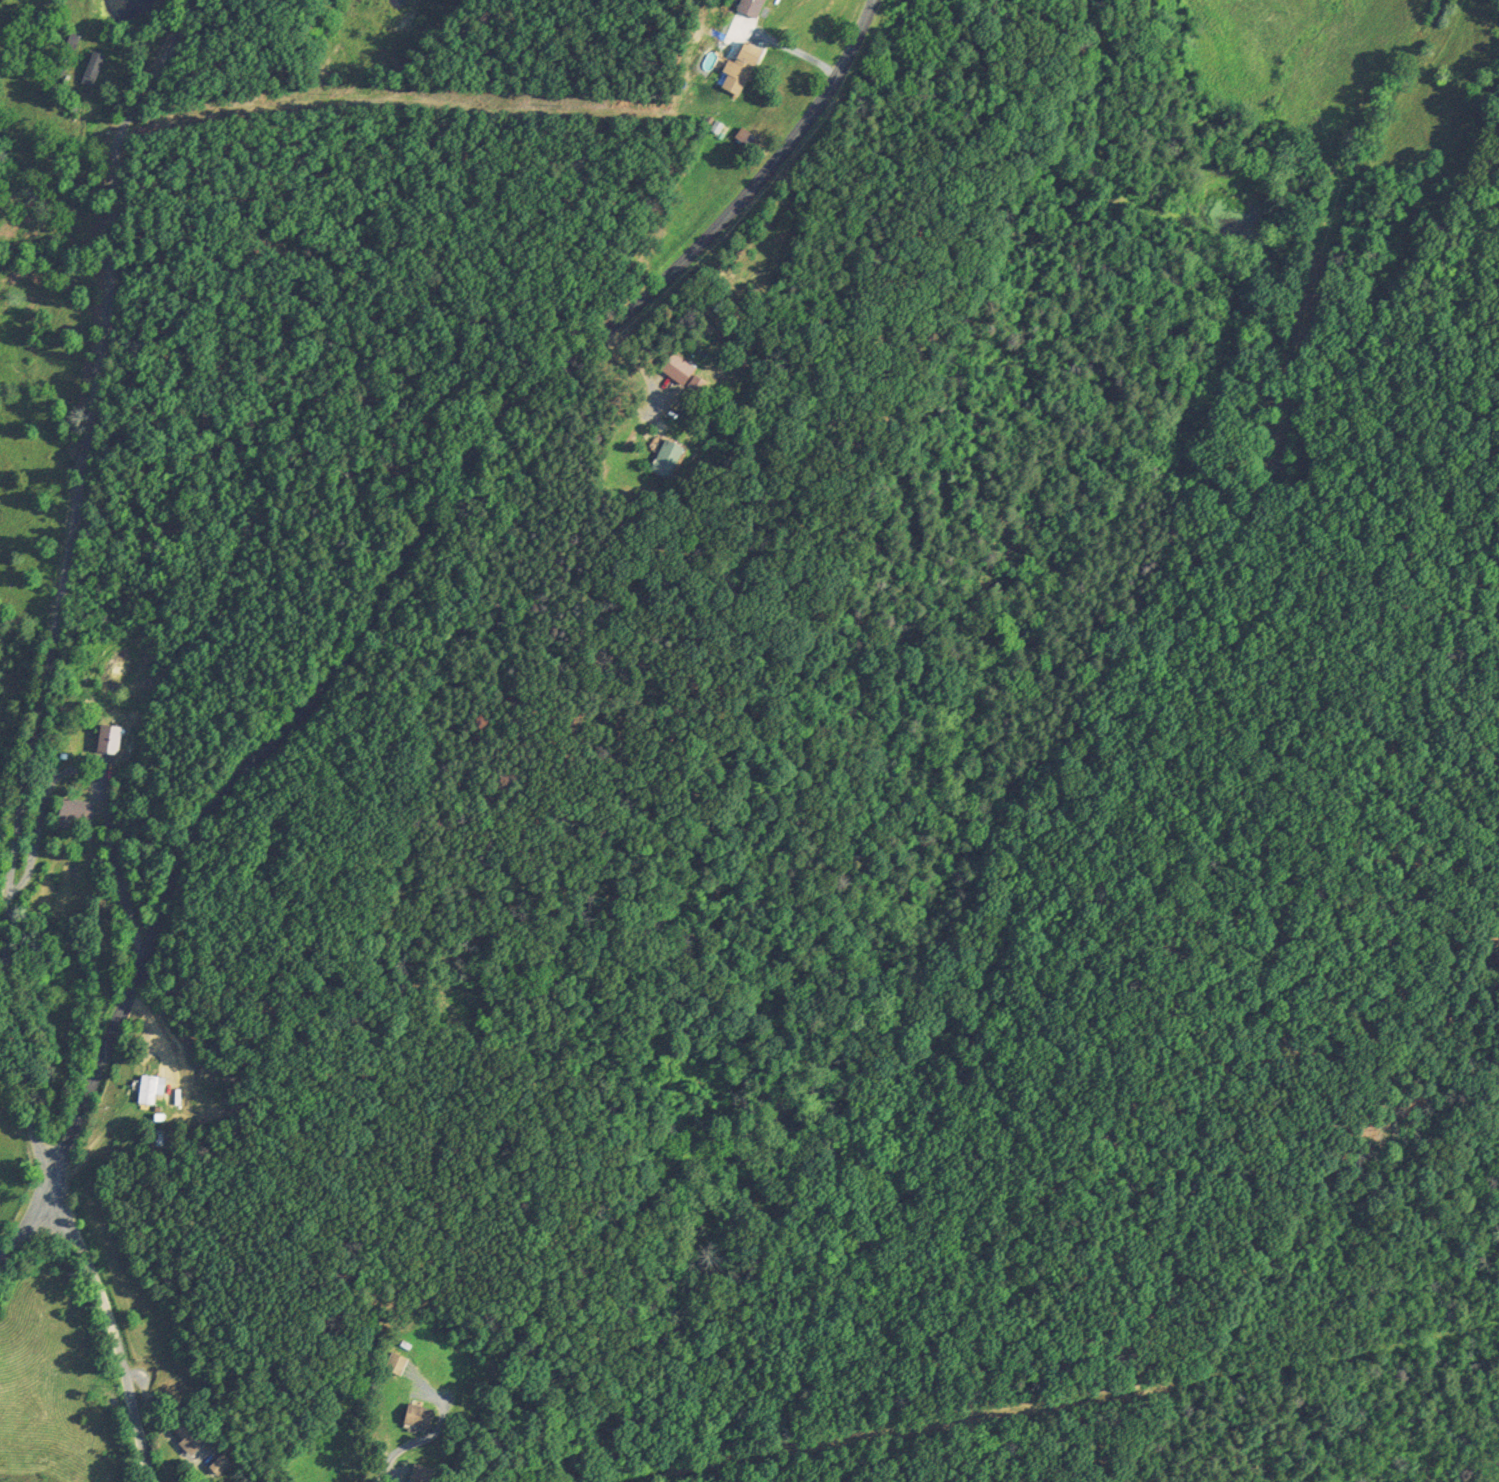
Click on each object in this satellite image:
building: (752, 7)
building: (70, 47)
building: (745, 68)
building: (93, 69)
building: (679, 369)
building: (667, 457)
road: (402, 558)
road: (57, 585)
building: (109, 738)
building: (76, 811)
building: (149, 1088)
road: (25, 1220)
road: (112, 1330)
building: (397, 1363)
building: (421, 1415)
building: (193, 1430)
building: (221, 1464)
building: (423, 1473)

